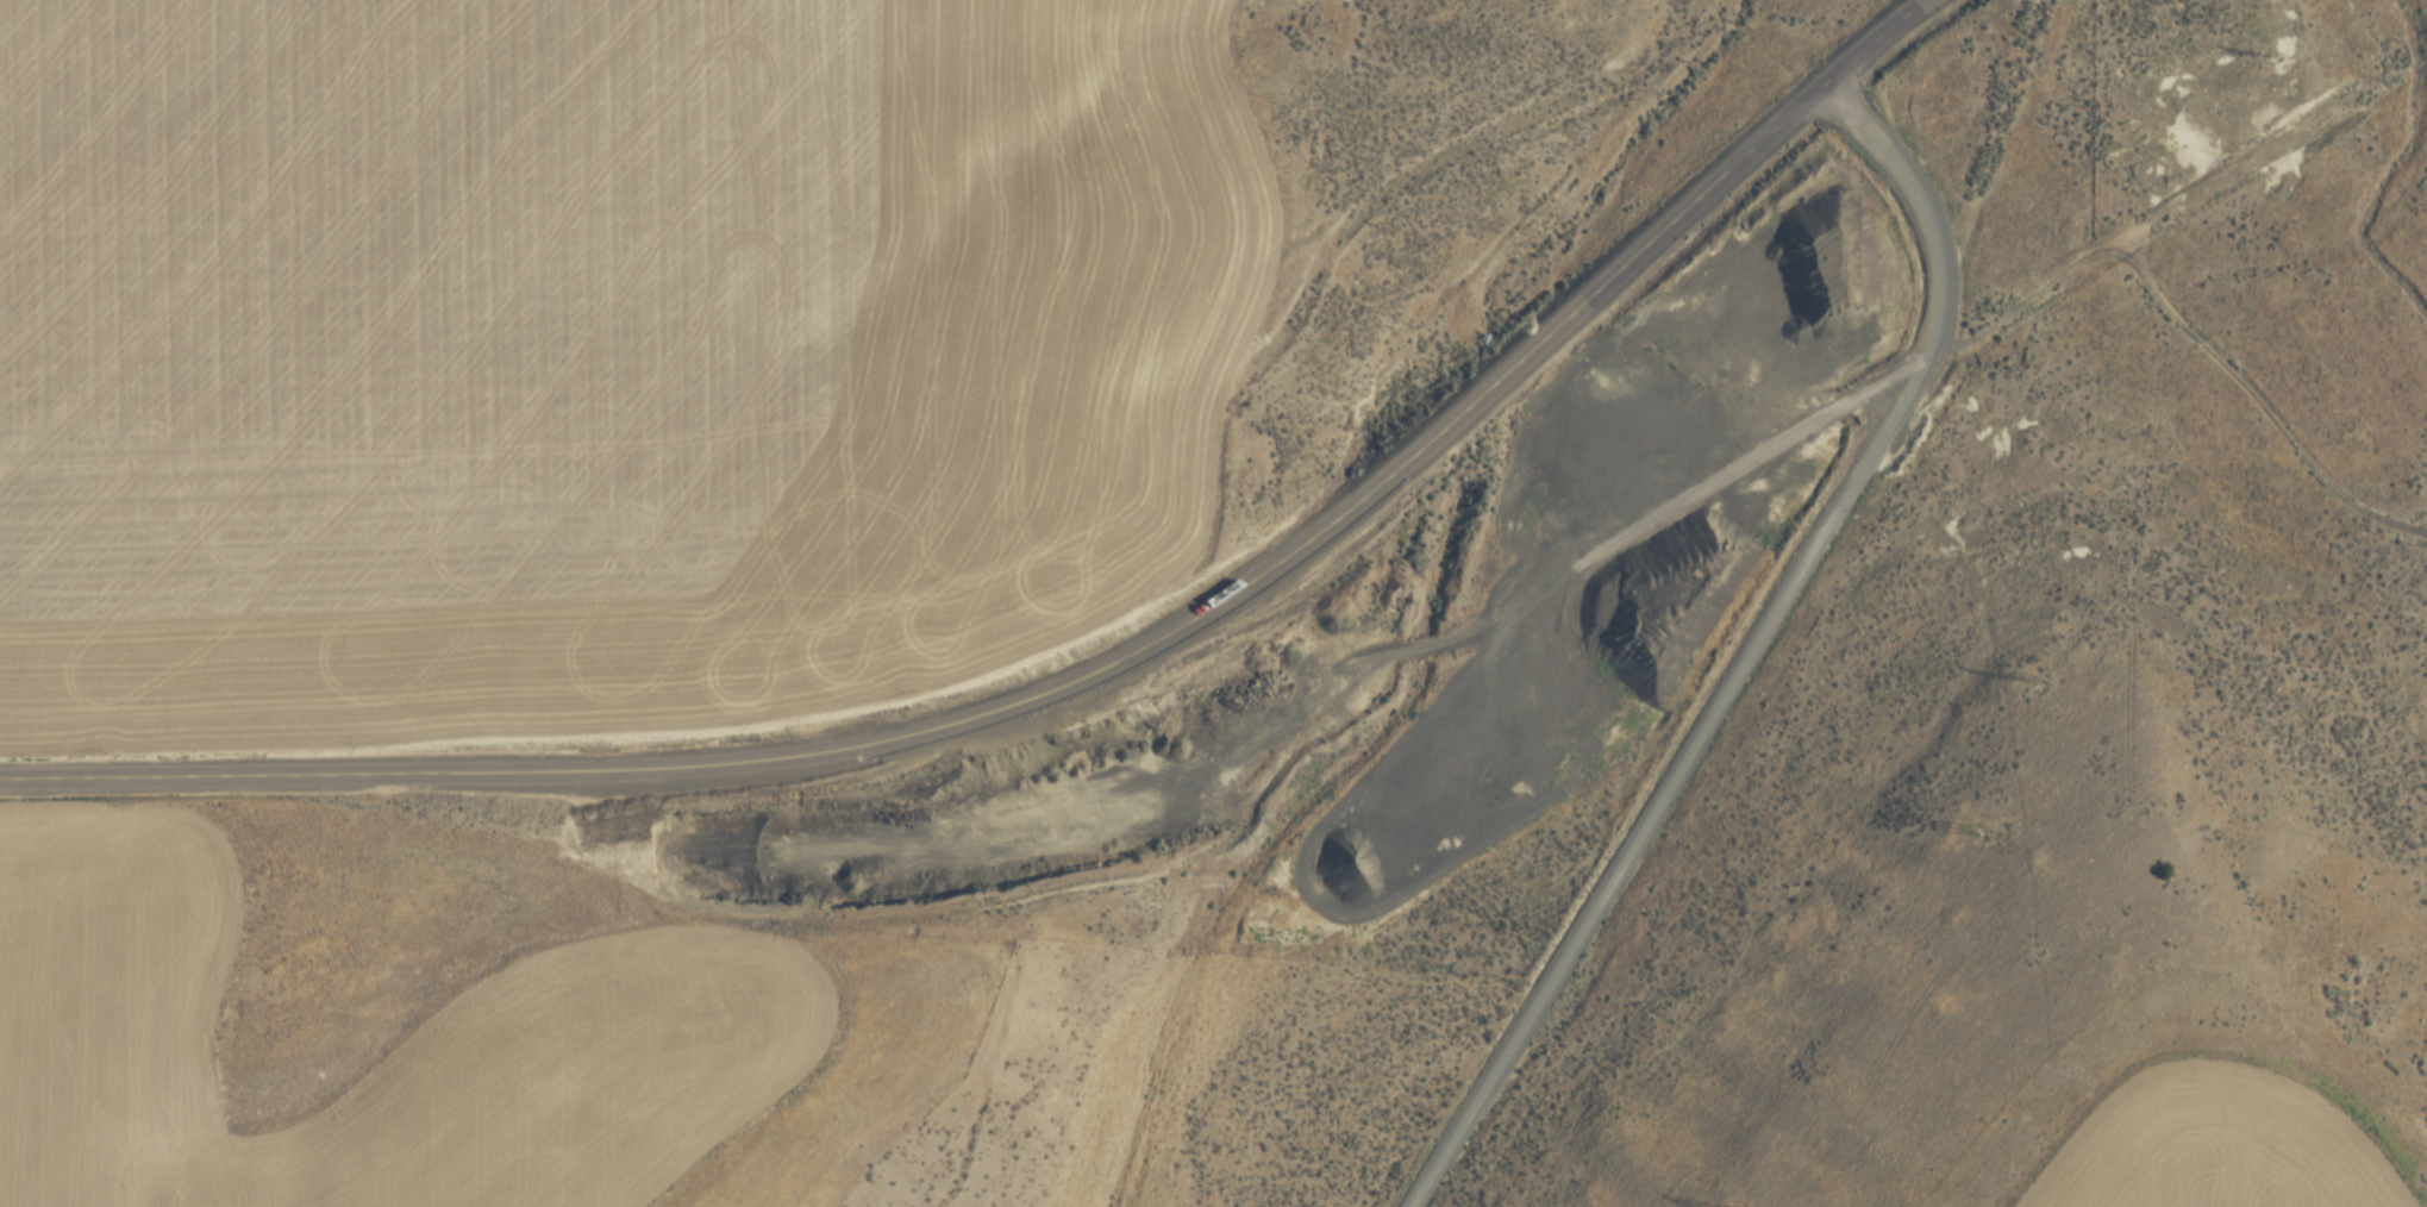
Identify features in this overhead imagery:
road: (1752, 649)
road: (1076, 678)

